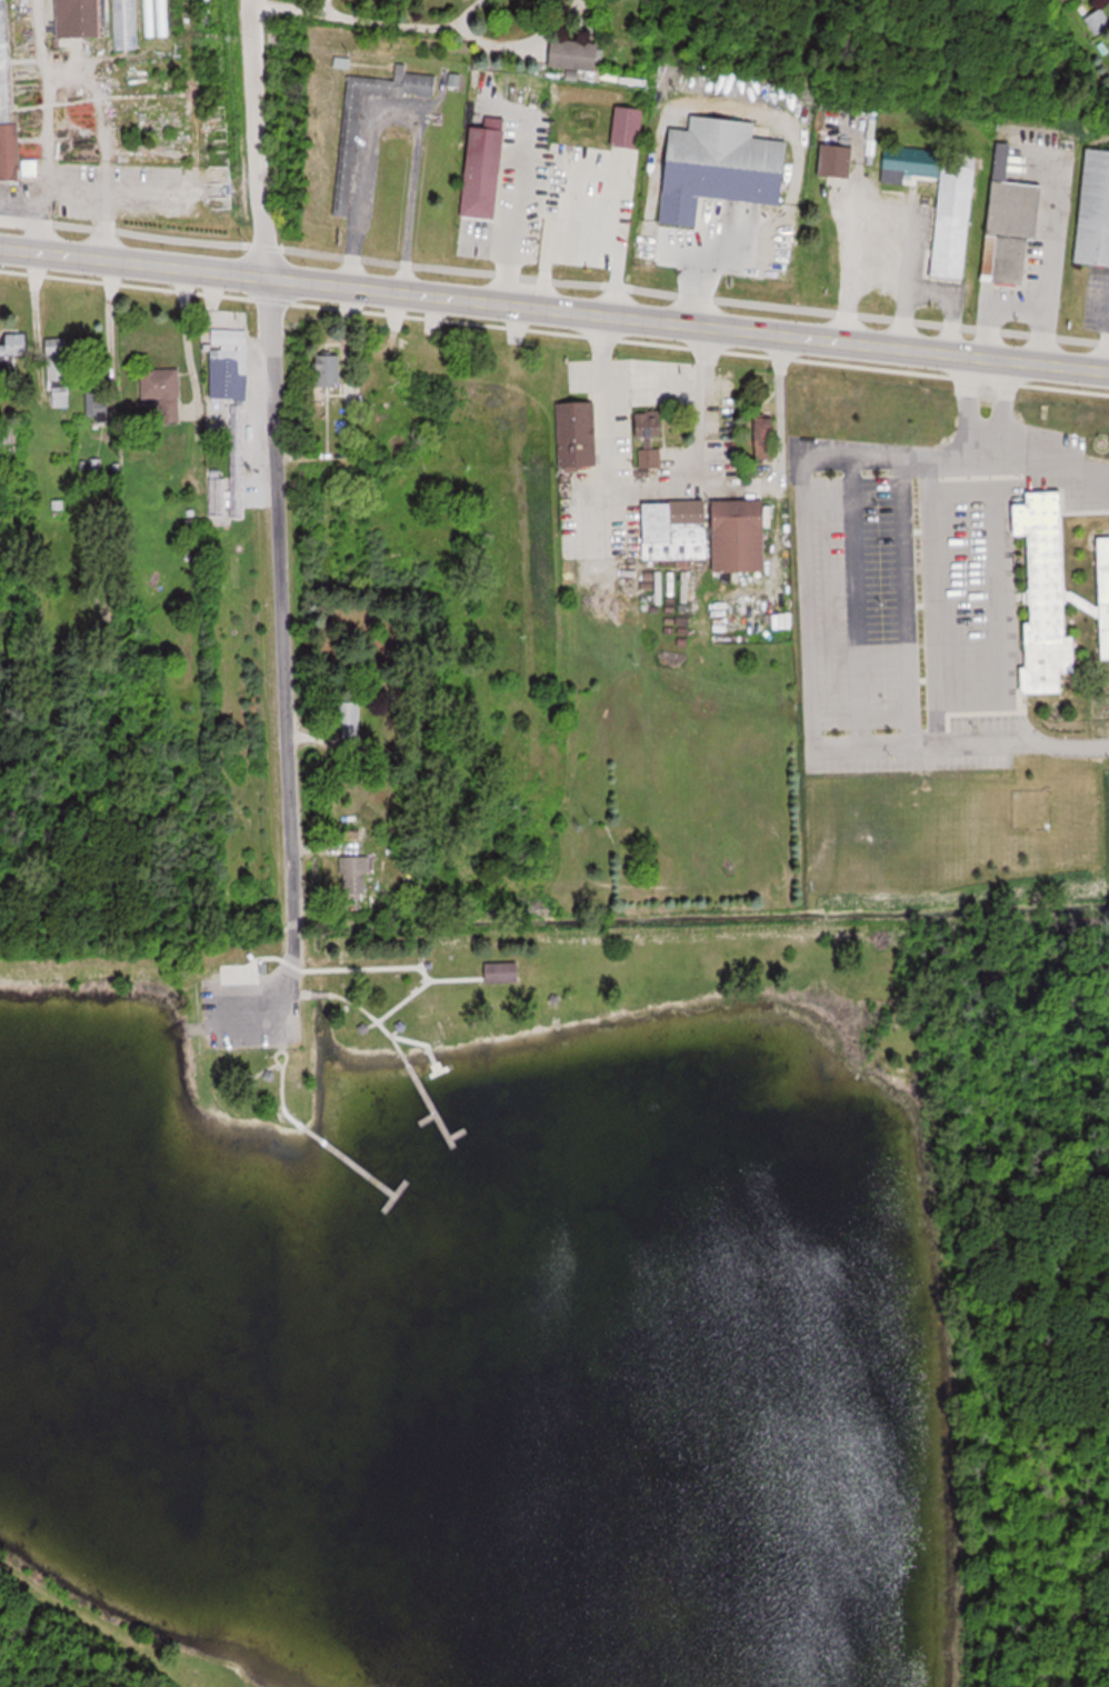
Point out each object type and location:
road: (464, 13)
road: (351, 14)
building: (80, 18)
building: (154, 18)
building: (1099, 21)
road: (522, 41)
building: (577, 53)
building: (8, 108)
building: (349, 159)
building: (838, 160)
building: (723, 167)
building: (486, 168)
building: (942, 200)
building: (1010, 208)
building: (1096, 210)
building: (599, 216)
road: (554, 308)
building: (14, 346)
building: (231, 363)
building: (330, 369)
building: (59, 372)
building: (163, 391)
building: (99, 405)
building: (579, 433)
building: (651, 436)
building: (11, 438)
road: (272, 489)
road: (524, 495)
building: (219, 500)
building: (676, 528)
building: (741, 533)
building: (1105, 589)
building: (1048, 590)
road: (806, 626)
building: (350, 720)
building: (354, 875)
road: (422, 964)
road: (101, 966)
road: (344, 969)
building: (503, 971)
building: (239, 972)
road: (427, 984)
road: (304, 996)
road: (320, 996)
parking lot: (251, 1012)
road: (370, 1015)
road: (374, 1025)
building: (402, 1026)
building: (366, 1028)
road: (396, 1034)
road: (277, 1059)
road: (261, 1072)
building: (270, 1075)
building: (233, 1076)
road: (283, 1086)
road: (926, 1089)
road: (426, 1095)
road: (430, 1118)
road: (458, 1135)
road: (349, 1158)
road: (397, 1196)
park: (558, 1305)
road: (110, 1621)

